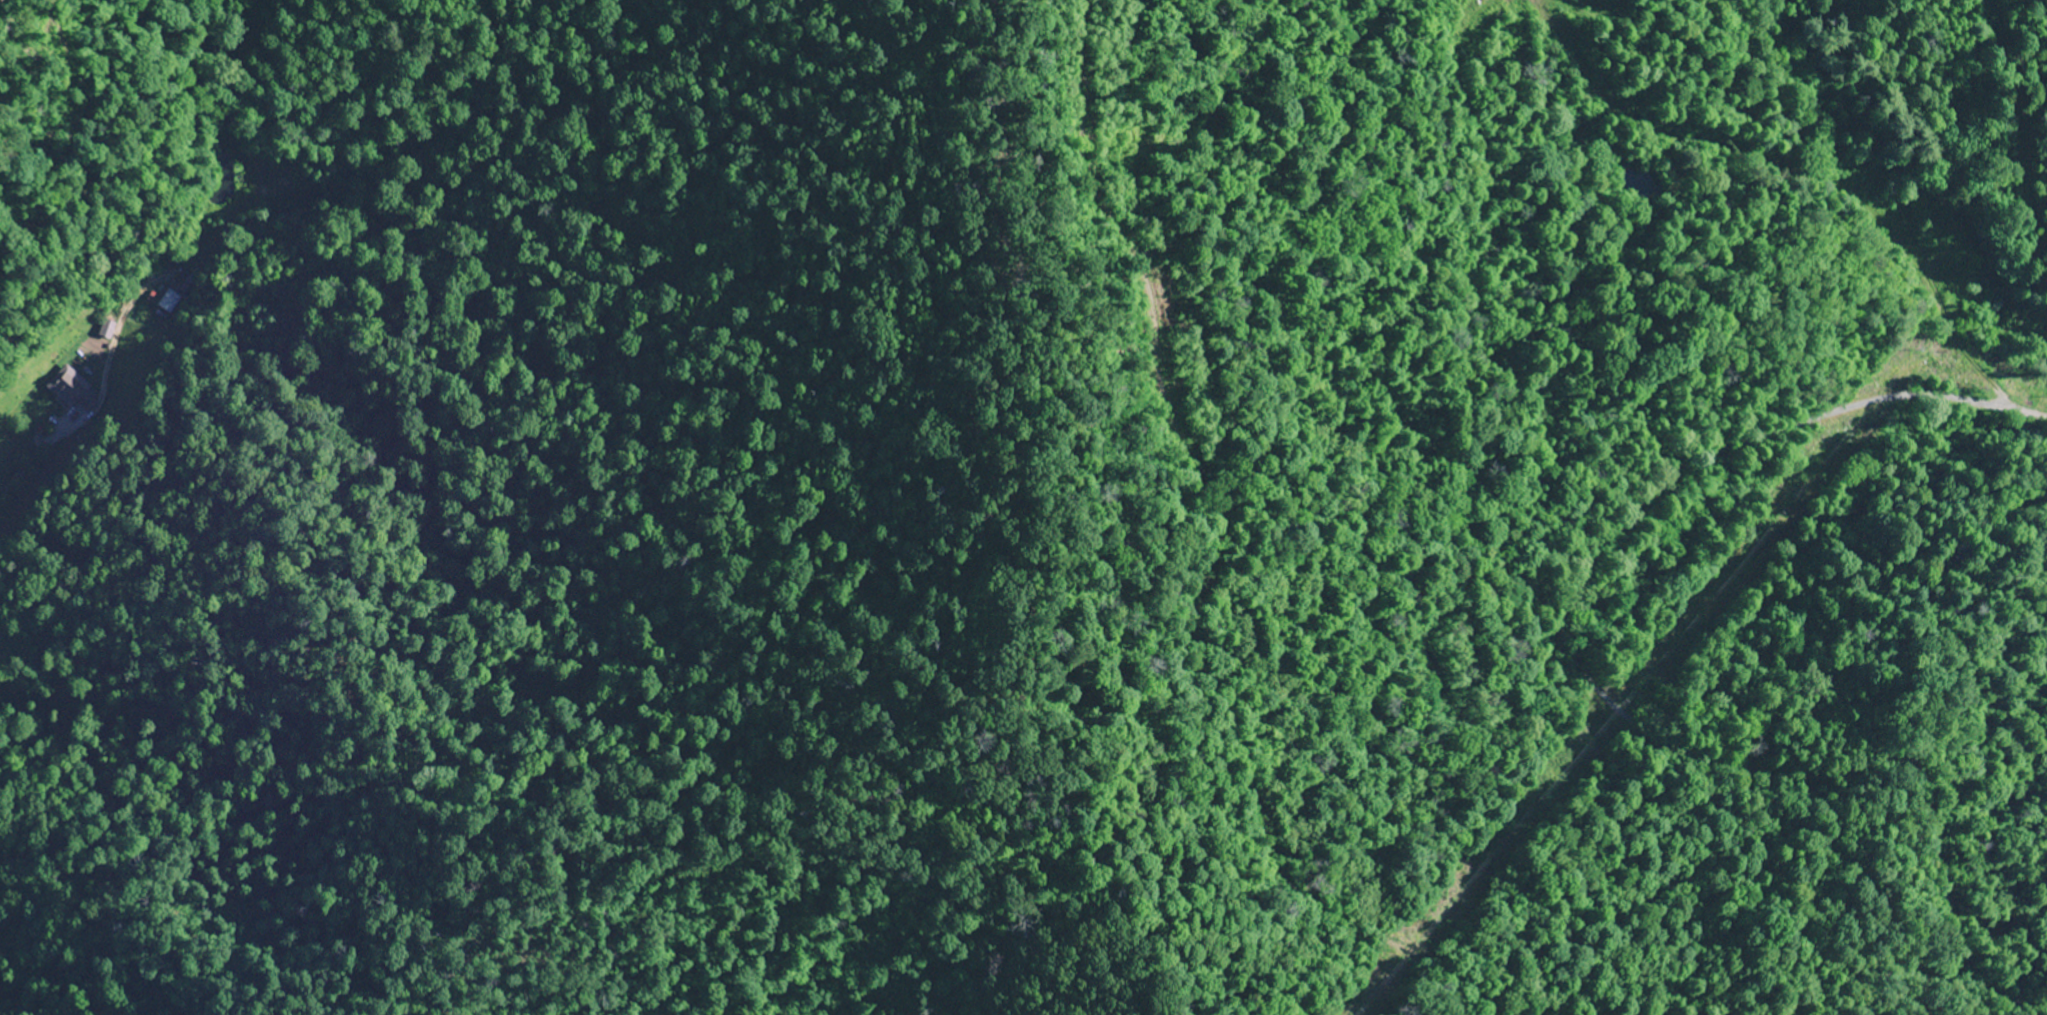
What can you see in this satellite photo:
building: (193, 277)
building: (169, 301)
building: (72, 390)

